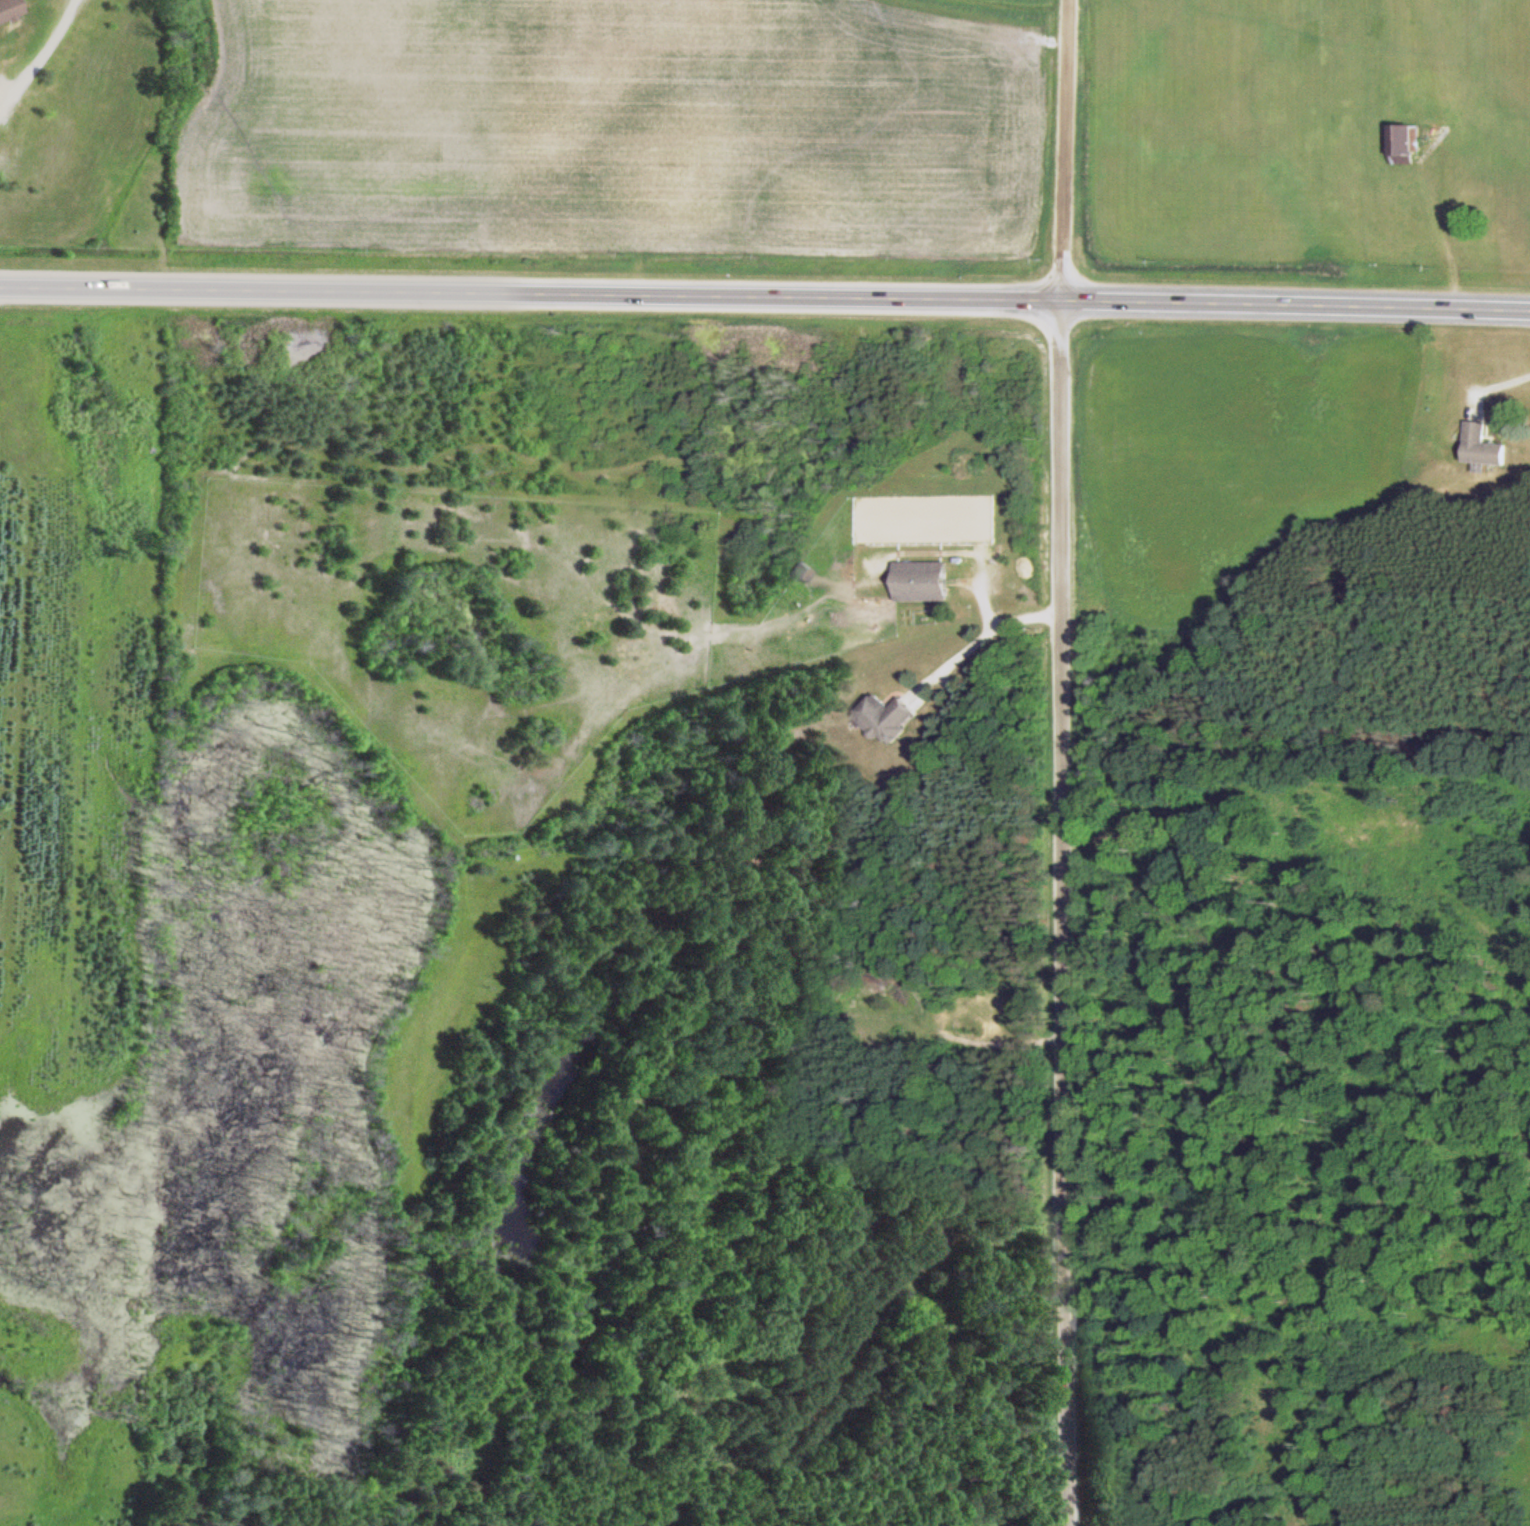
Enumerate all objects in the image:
building: (5, 9)
building: (1403, 143)
road: (1068, 149)
road: (765, 295)
building: (1479, 446)
building: (800, 571)
building: (919, 581)
building: (883, 717)
road: (1063, 912)

